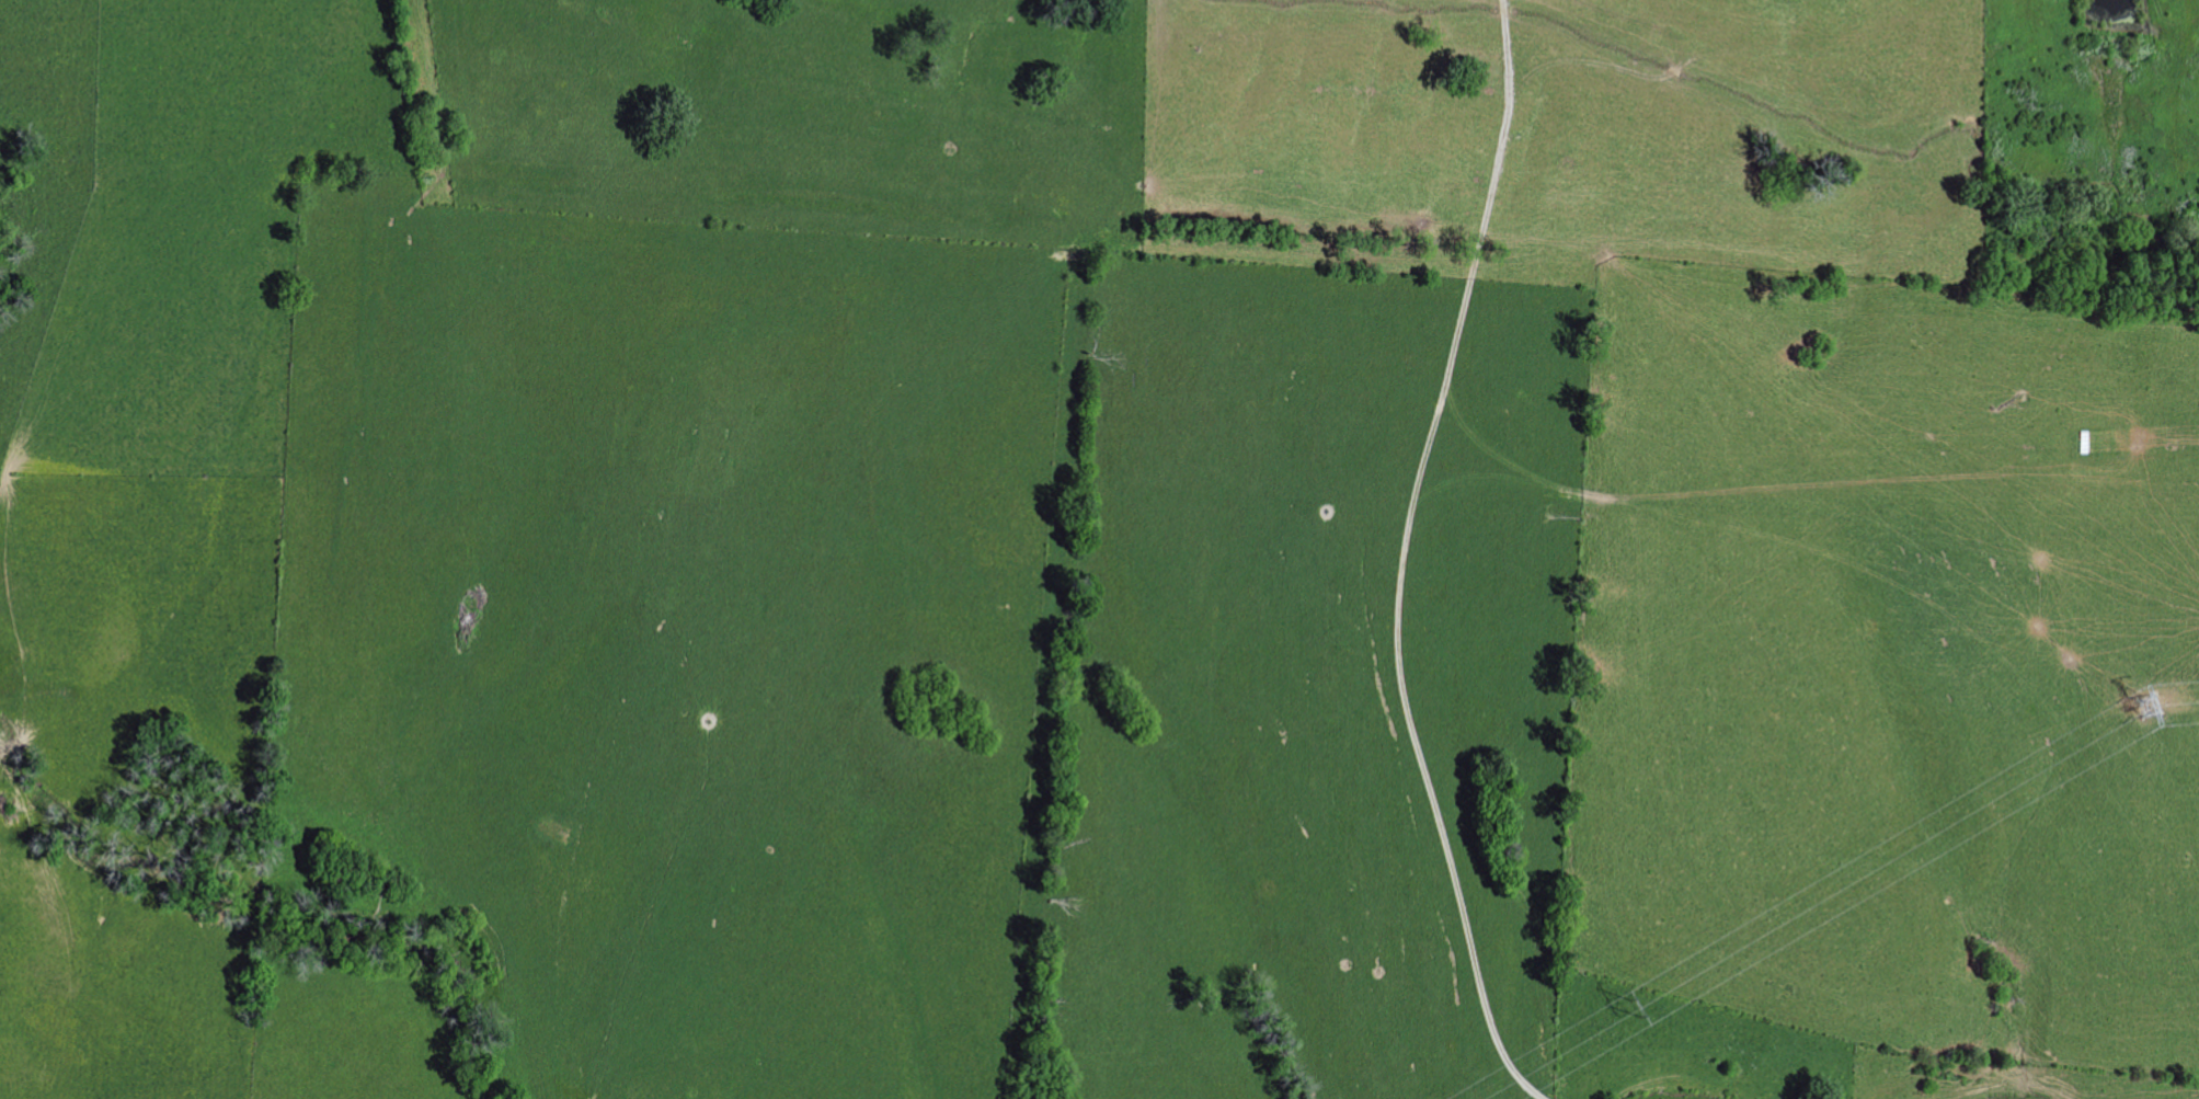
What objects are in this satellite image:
power tower: (2152, 707)
power tower: (1635, 1007)

